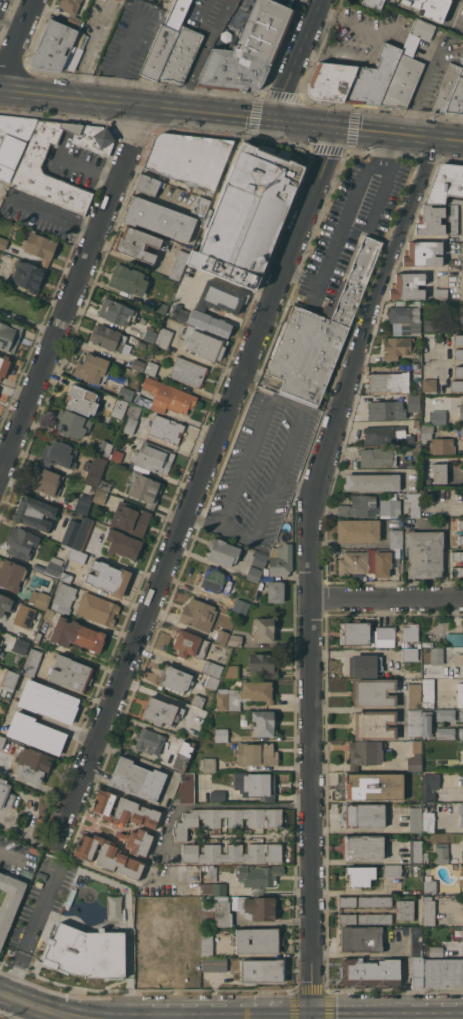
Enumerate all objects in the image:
road: (316, 2)
building: (373, 3)
building: (429, 8)
building: (71, 11)
road: (10, 21)
building: (422, 29)
road: (16, 37)
building: (164, 40)
building: (53, 46)
road: (373, 49)
building: (247, 50)
road: (201, 54)
building: (180, 55)
road: (295, 59)
road: (121, 60)
building: (354, 79)
building: (402, 82)
road: (420, 83)
building: (446, 88)
building: (456, 98)
road: (75, 112)
road: (231, 115)
traffic signals: (271, 120)
road: (68, 127)
traffic signals: (338, 128)
building: (13, 141)
building: (189, 159)
road: (73, 162)
building: (29, 169)
building: (147, 184)
building: (445, 184)
road: (379, 195)
building: (456, 201)
building: (201, 205)
road: (54, 214)
building: (247, 215)
building: (159, 218)
building: (453, 219)
road: (343, 220)
building: (430, 220)
building: (3, 242)
building: (136, 243)
building: (39, 247)
building: (423, 253)
building: (178, 264)
building: (28, 276)
building: (128, 280)
building: (407, 286)
road: (74, 292)
building: (440, 292)
building: (220, 297)
building: (160, 307)
building: (115, 312)
building: (460, 315)
building: (202, 320)
building: (405, 320)
building: (433, 324)
building: (150, 334)
building: (319, 334)
building: (9, 335)
building: (164, 337)
building: (109, 338)
building: (458, 339)
building: (205, 346)
building: (398, 347)
building: (458, 354)
building: (138, 364)
building: (4, 365)
building: (415, 365)
building: (151, 367)
building: (92, 368)
building: (188, 371)
building: (459, 371)
building: (388, 382)
building: (428, 384)
building: (457, 385)
building: (126, 393)
building: (168, 396)
building: (81, 400)
building: (413, 402)
building: (120, 406)
building: (386, 409)
building: (461, 412)
building: (438, 415)
building: (131, 418)
building: (416, 422)
road: (259, 423)
building: (70, 424)
road: (295, 427)
building: (442, 427)
building: (166, 429)
building: (460, 431)
building: (386, 434)
building: (436, 441)
building: (104, 448)
building: (59, 455)
building: (116, 455)
building: (379, 457)
building: (152, 458)
building: (439, 472)
building: (93, 473)
building: (47, 481)
road: (198, 482)
building: (372, 482)
building: (105, 485)
road: (296, 485)
building: (143, 488)
building: (92, 489)
road: (234, 491)
building: (462, 492)
building: (100, 496)
building: (83, 503)
building: (414, 503)
building: (369, 506)
road: (265, 509)
building: (34, 513)
building: (130, 519)
building: (460, 524)
road: (218, 528)
building: (358, 530)
building: (70, 532)
building: (83, 533)
building: (396, 538)
building: (460, 539)
building: (21, 542)
building: (122, 544)
building: (223, 552)
building: (68, 553)
building: (424, 553)
building: (77, 555)
building: (457, 556)
building: (259, 559)
building: (281, 560)
building: (353, 562)
building: (382, 563)
road: (216, 564)
building: (54, 567)
building: (38, 568)
road: (313, 568)
building: (457, 571)
building: (254, 574)
building: (12, 575)
building: (66, 577)
building: (108, 578)
building: (213, 580)
building: (275, 591)
building: (63, 598)
building: (39, 599)
road: (388, 599)
building: (5, 604)
building: (240, 606)
building: (98, 609)
building: (198, 614)
building: (24, 616)
building: (263, 630)
building: (409, 631)
building: (462, 631)
building: (73, 632)
building: (354, 633)
building: (221, 636)
building: (383, 636)
building: (38, 637)
building: (454, 639)
building: (235, 640)
building: (189, 644)
building: (20, 646)
building: (410, 654)
building: (436, 655)
building: (31, 662)
building: (365, 663)
building: (263, 664)
building: (212, 668)
building: (230, 672)
building: (70, 673)
building: (174, 679)
building: (211, 682)
building: (8, 683)
building: (374, 693)
building: (428, 693)
building: (460, 694)
building: (244, 695)
building: (414, 695)
building: (48, 701)
building: (198, 701)
building: (161, 712)
building: (448, 714)
building: (262, 722)
building: (414, 722)
building: (374, 724)
building: (427, 724)
building: (35, 733)
building: (461, 733)
building: (221, 734)
building: (445, 734)
building: (2, 741)
building: (149, 741)
building: (364, 753)
building: (256, 754)
building: (462, 754)
building: (183, 755)
building: (414, 759)
building: (33, 765)
building: (208, 765)
building: (137, 779)
building: (462, 779)
building: (255, 785)
building: (373, 785)
building: (429, 786)
building: (185, 789)
building: (5, 794)
building: (217, 795)
road: (221, 805)
building: (124, 810)
building: (364, 815)
building: (461, 815)
building: (228, 819)
building: (415, 819)
building: (428, 820)
building: (215, 835)
building: (256, 835)
building: (137, 841)
building: (363, 847)
building: (415, 851)
road: (10, 853)
building: (232, 853)
building: (441, 853)
building: (107, 855)
building: (425, 857)
building: (392, 870)
building: (461, 870)
building: (210, 871)
building: (258, 875)
building: (359, 875)
building: (461, 883)
building: (429, 885)
building: (127, 887)
building: (188, 888)
building: (213, 888)
road: (353, 892)
building: (194, 899)
building: (9, 901)
building: (347, 901)
building: (375, 901)
building: (157, 905)
building: (257, 907)
building: (404, 910)
building: (428, 911)
building: (214, 912)
road: (39, 913)
building: (374, 918)
building: (347, 919)
building: (90, 925)
building: (462, 934)
building: (360, 939)
building: (258, 940)
building: (415, 941)
building: (206, 944)
building: (436, 951)
building: (156, 956)
building: (214, 964)
building: (261, 970)
building: (417, 971)
building: (369, 972)
building: (443, 972)
road: (39, 1007)

